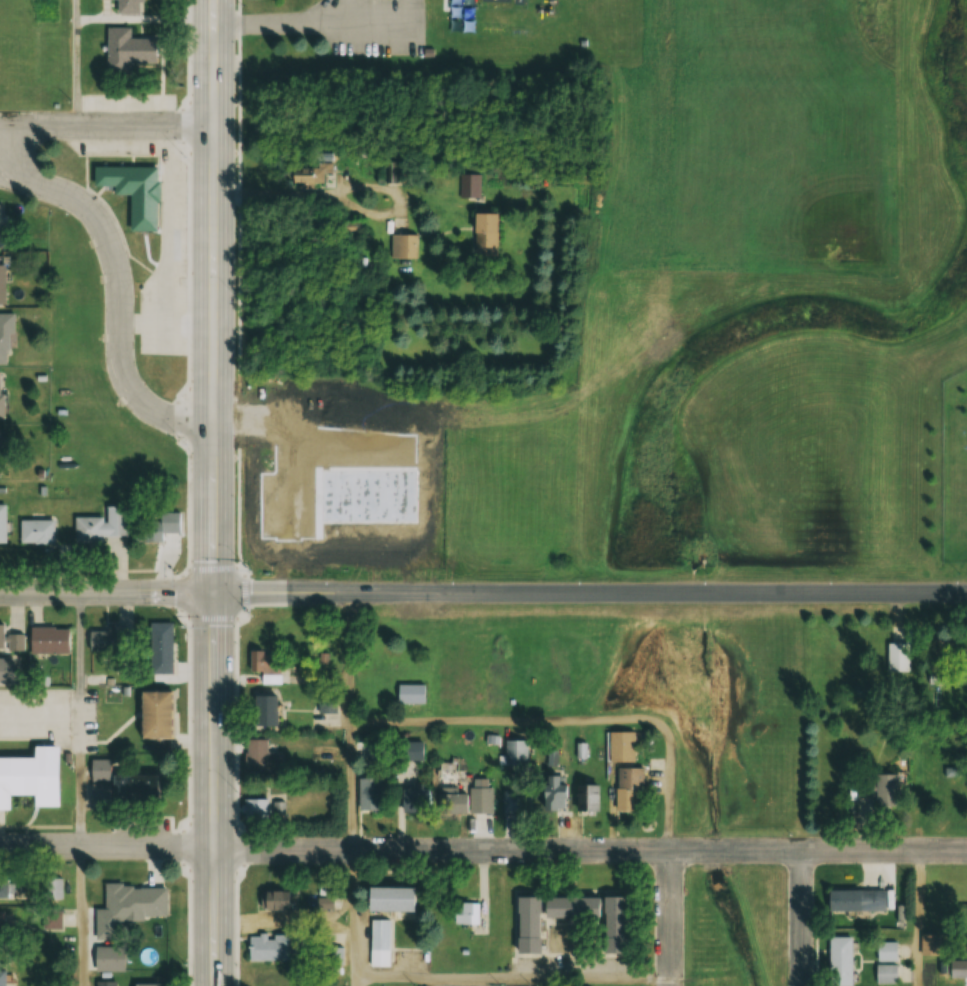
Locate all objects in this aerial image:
building: (127, 6)
building: (125, 50)
road: (75, 63)
road: (106, 126)
building: (469, 185)
building: (133, 193)
building: (0, 226)
building: (482, 230)
building: (402, 246)
building: (1, 280)
road: (121, 290)
building: (5, 334)
building: (0, 453)
road: (212, 493)
building: (115, 520)
building: (2, 523)
building: (155, 527)
building: (87, 529)
building: (35, 531)
road: (589, 592)
road: (106, 593)
building: (1, 634)
building: (108, 638)
building: (47, 640)
building: (14, 641)
building: (158, 650)
building: (898, 657)
road: (351, 659)
building: (267, 665)
building: (6, 669)
building: (411, 694)
building: (327, 702)
building: (263, 710)
parking lot: (35, 711)
building: (151, 714)
road: (80, 720)
road: (570, 720)
building: (619, 746)
building: (414, 750)
building: (516, 753)
building: (259, 759)
building: (30, 774)
building: (627, 786)
road: (352, 787)
building: (119, 788)
building: (876, 788)
building: (554, 792)
building: (368, 794)
building: (587, 797)
building: (414, 799)
building: (480, 799)
building: (515, 800)
building: (452, 802)
building: (255, 807)
road: (483, 850)
building: (3, 885)
building: (386, 898)
building: (134, 899)
building: (854, 899)
building: (273, 900)
building: (567, 906)
building: (465, 912)
road: (353, 914)
road: (79, 917)
road: (670, 918)
road: (799, 918)
road: (917, 918)
building: (526, 923)
building: (611, 923)
building: (1, 931)
building: (379, 942)
building: (268, 947)
building: (335, 955)
building: (106, 958)
building: (838, 961)
building: (957, 968)
building: (1, 973)
road: (512, 979)
road: (354, 982)
building: (104, 983)
building: (147, 984)

